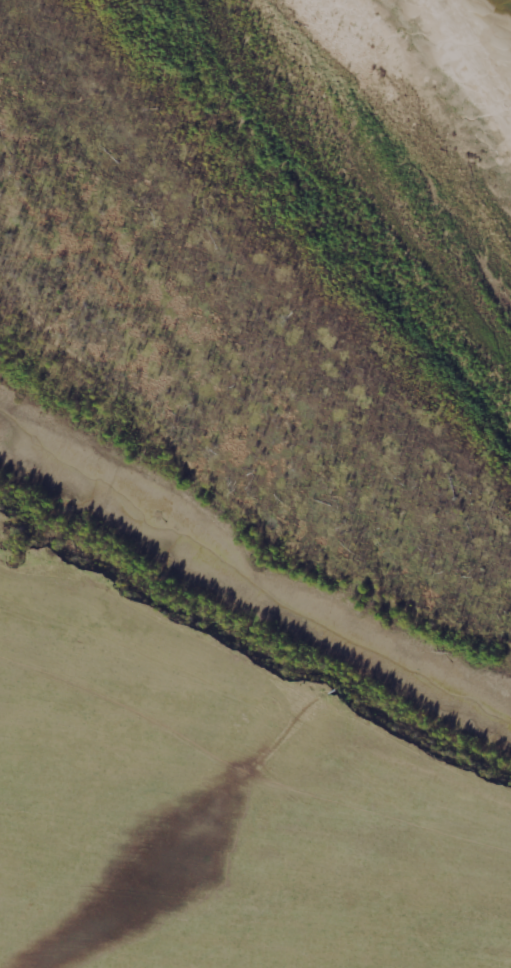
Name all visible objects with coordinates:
river: (255, 344)

